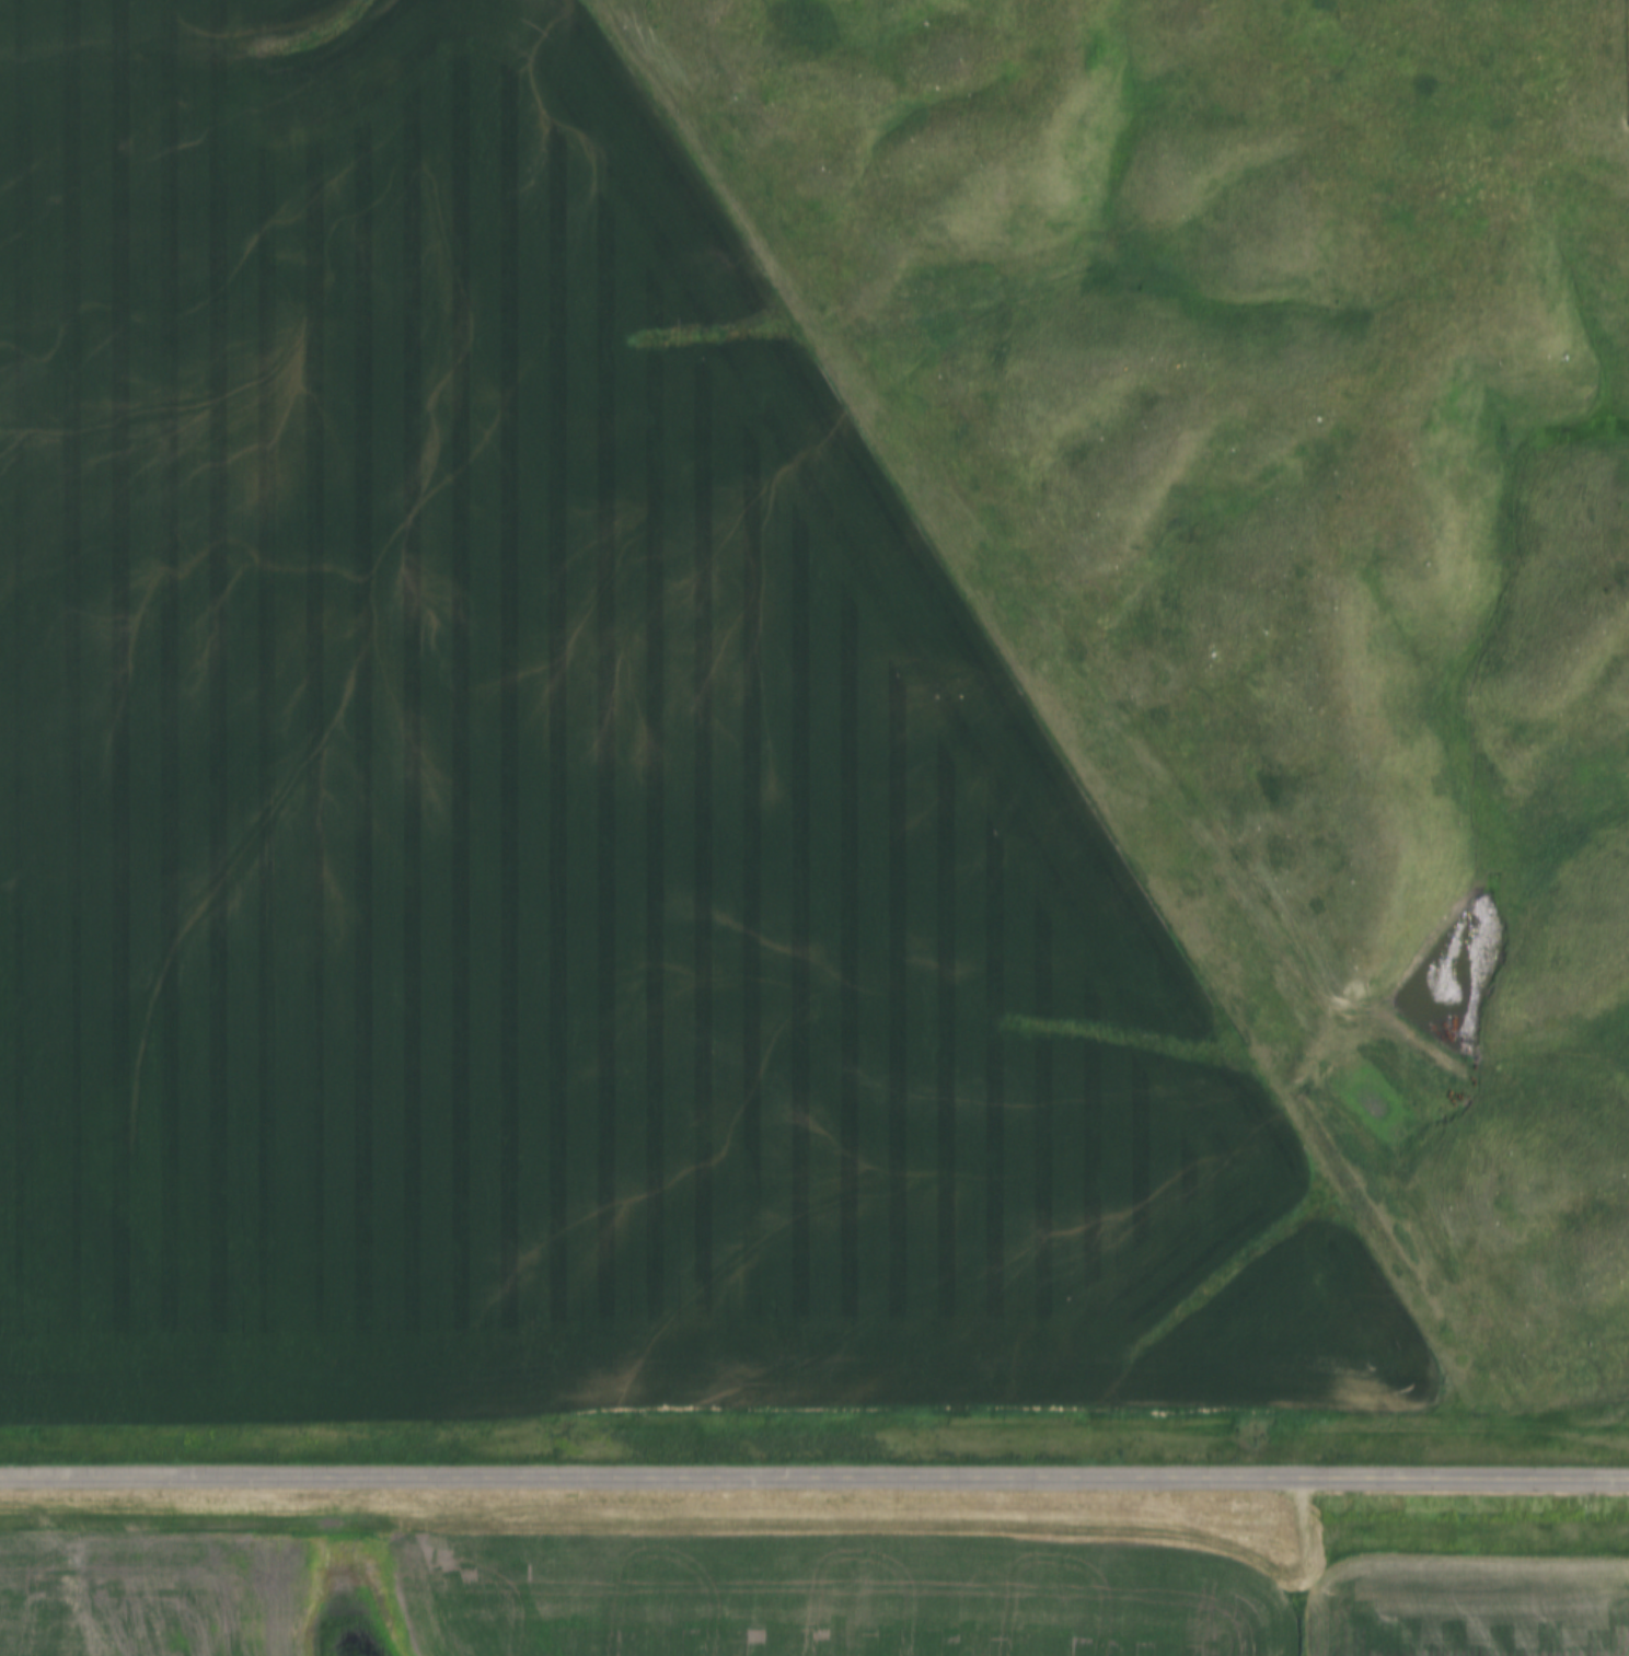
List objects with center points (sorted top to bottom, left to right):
road: (813, 1478)

